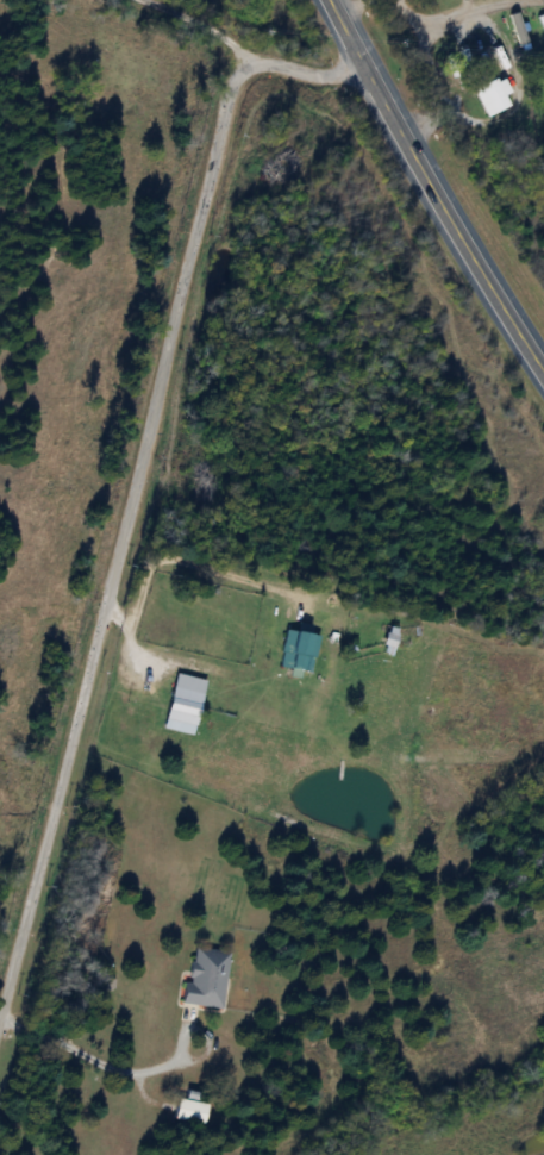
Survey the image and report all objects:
road: (204, 26)
road: (345, 31)
building: (490, 95)
road: (446, 214)
road: (131, 477)
road: (186, 560)
road: (133, 644)
building: (299, 649)
building: (182, 703)
building: (205, 978)
road: (104, 1063)
building: (188, 1111)

